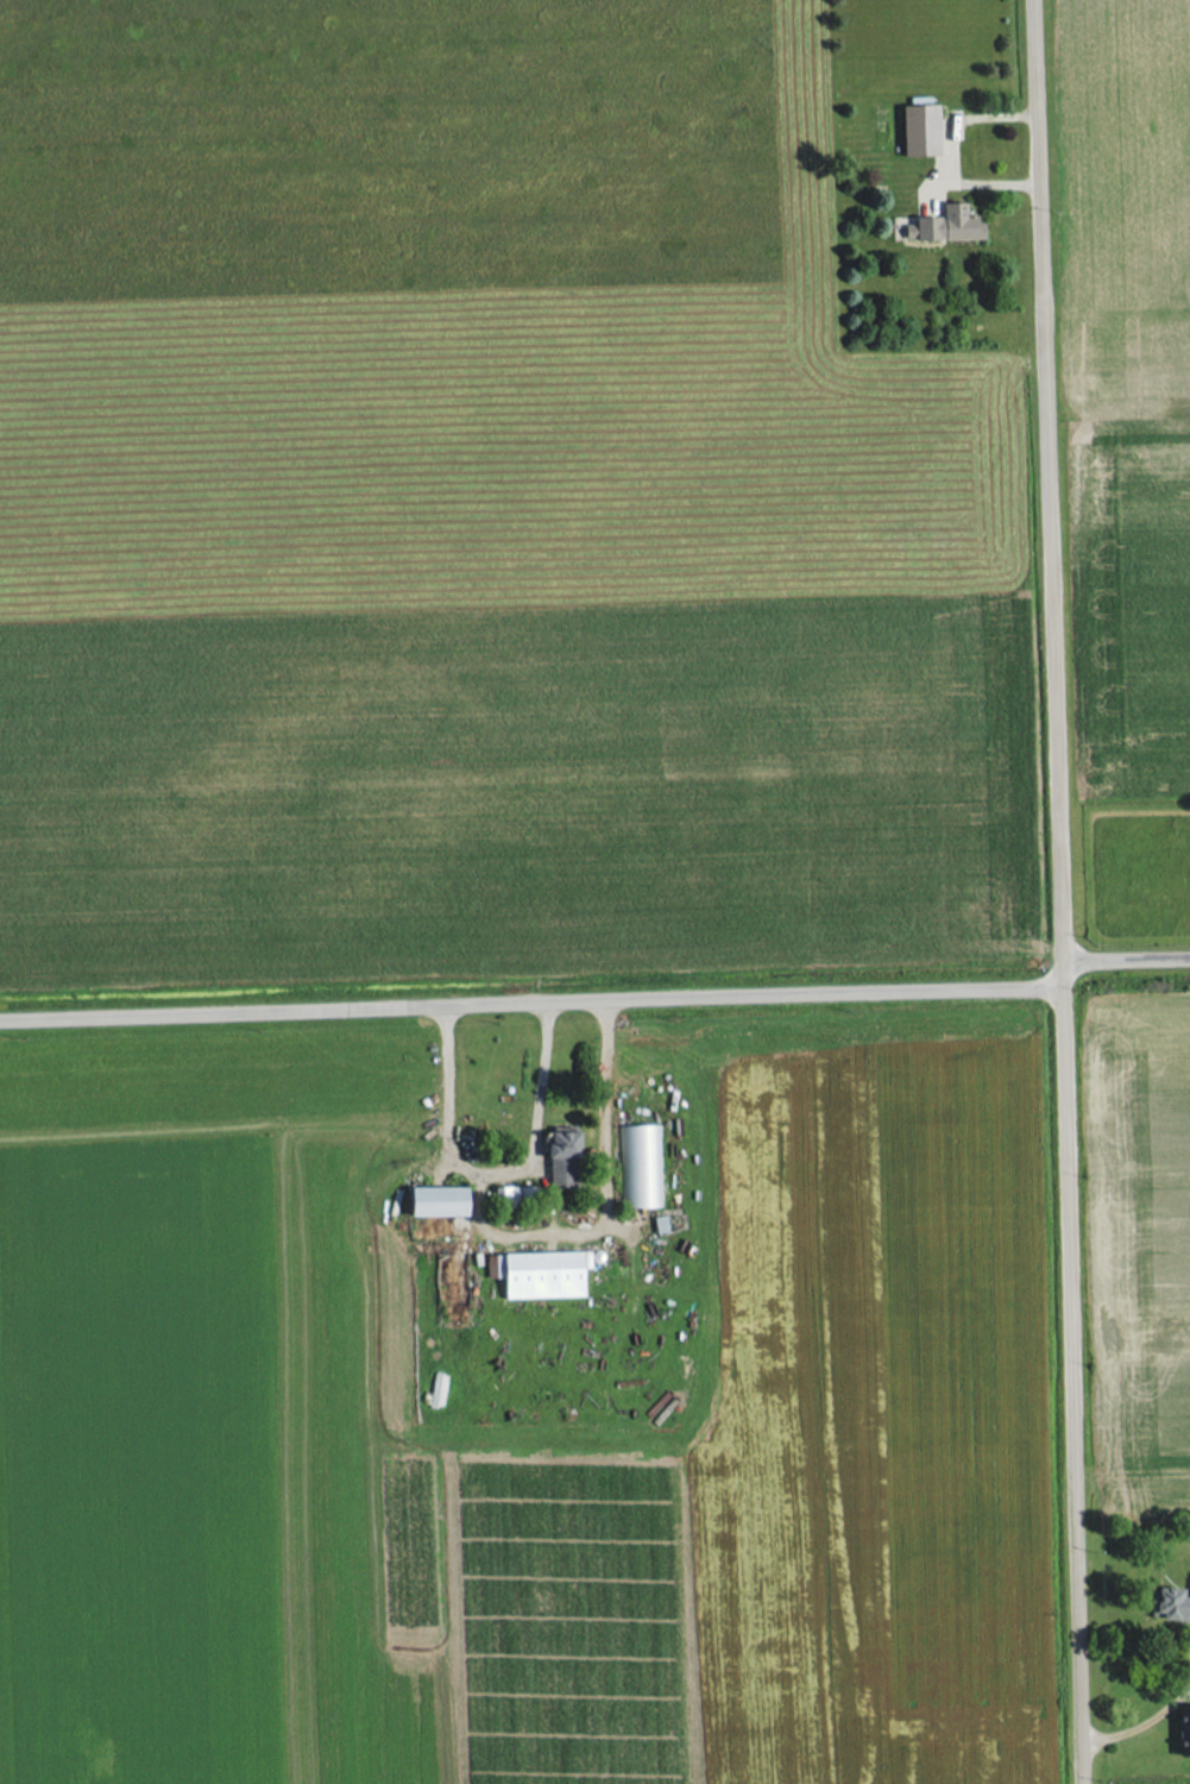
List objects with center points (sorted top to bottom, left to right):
building: (918, 128)
road: (1064, 891)
road: (1127, 951)
road: (539, 999)
building: (561, 1156)
building: (637, 1167)
building: (439, 1202)
crop: (1148, 1244)
building: (536, 1275)
building: (435, 1389)
crop: (873, 1427)
crop: (199, 1478)
building: (1171, 1606)
building: (1184, 1732)

